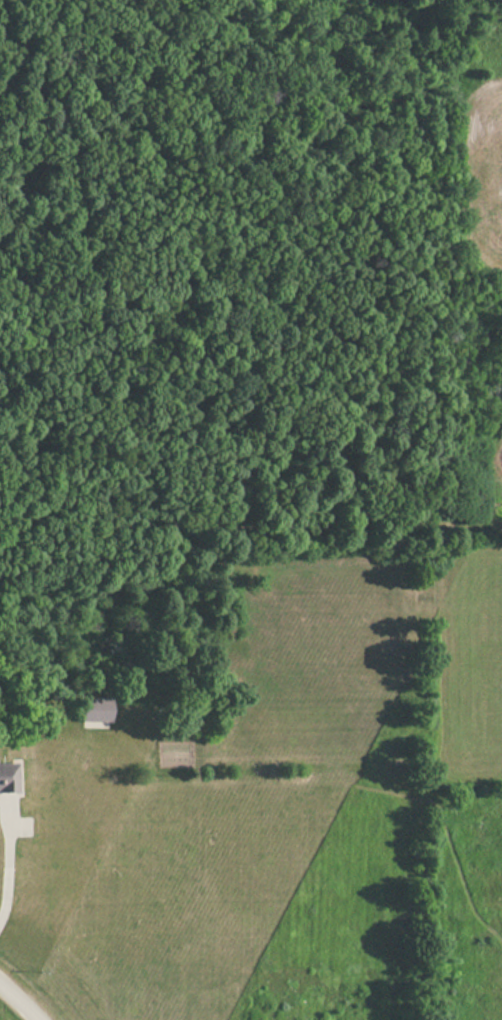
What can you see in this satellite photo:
building: (94, 711)
building: (7, 778)

